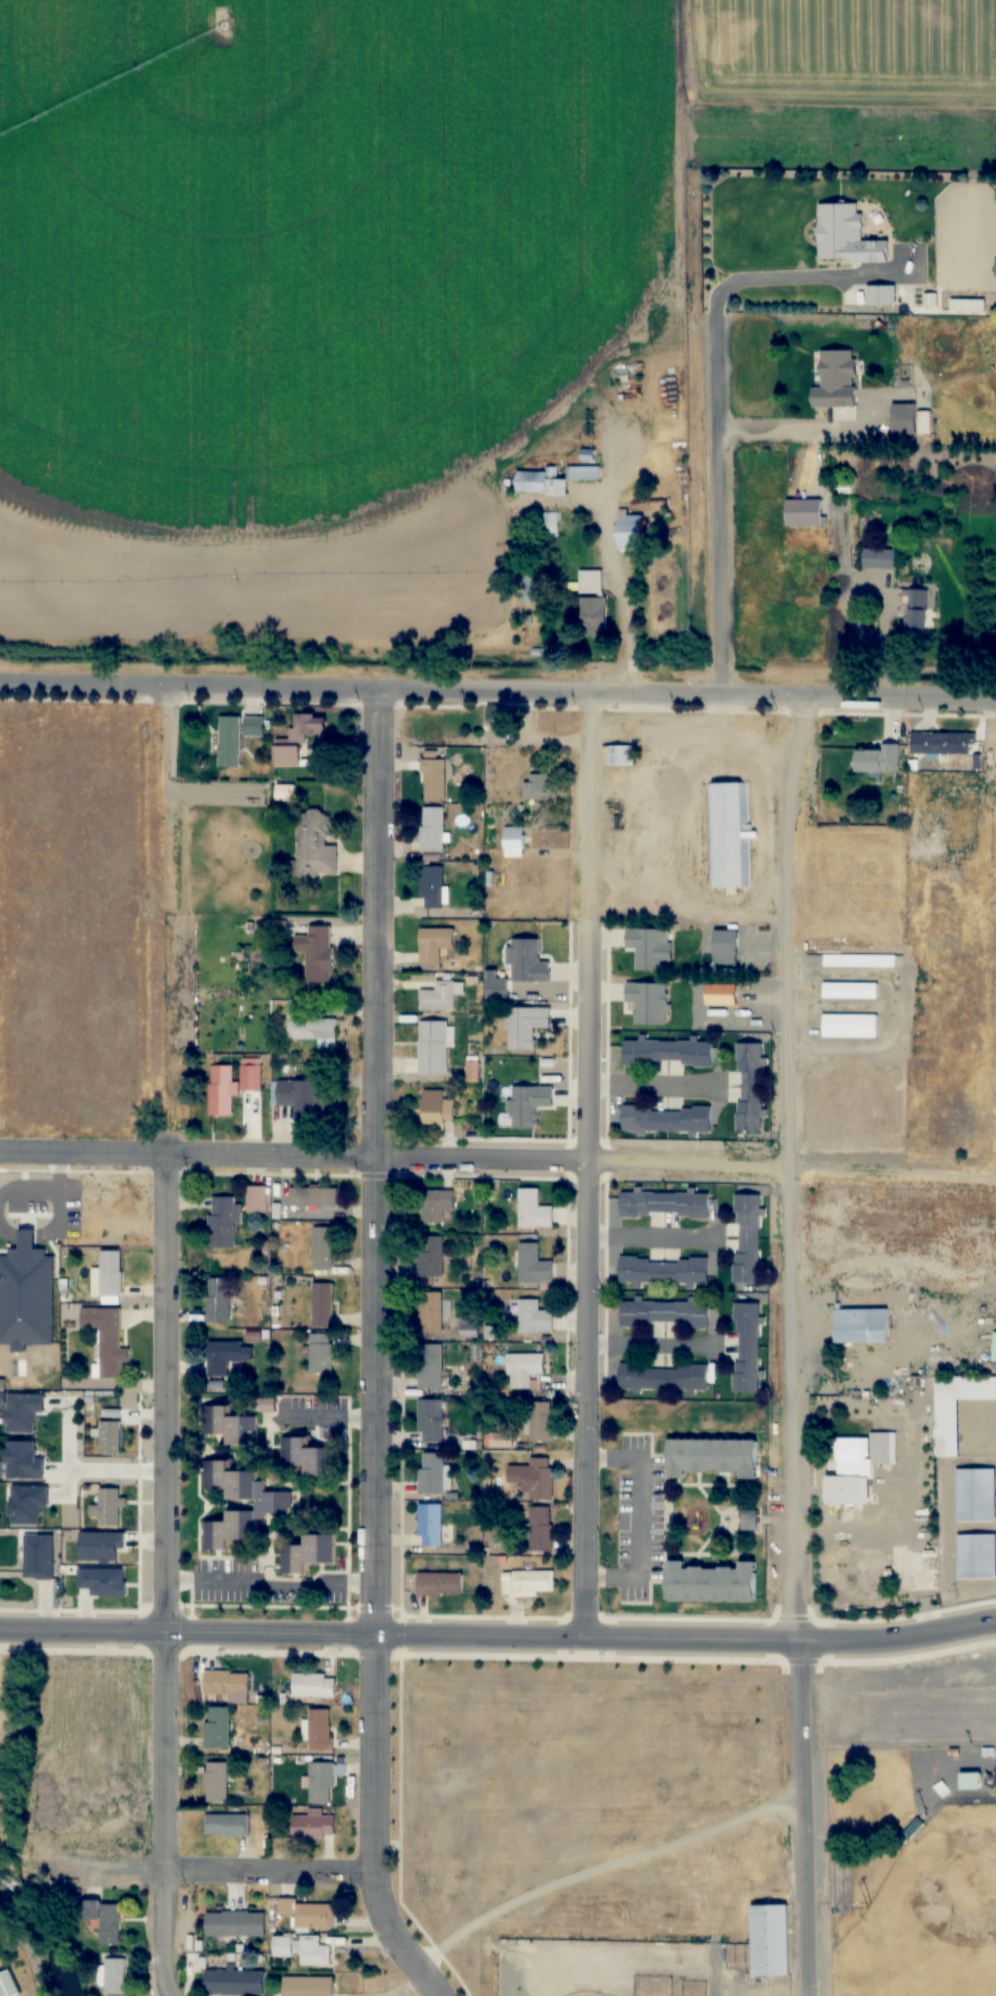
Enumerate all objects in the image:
building: (846, 237)
crop: (372, 271)
building: (885, 296)
building: (622, 375)
building: (836, 379)
road: (702, 396)
building: (904, 419)
road: (795, 431)
building: (586, 471)
building: (540, 483)
building: (804, 512)
building: (550, 524)
building: (630, 532)
building: (880, 559)
building: (592, 603)
building: (916, 610)
road: (190, 690)
road: (688, 694)
building: (303, 728)
building: (236, 737)
building: (942, 743)
building: (286, 755)
building: (618, 755)
building: (878, 759)
building: (434, 780)
building: (285, 793)
building: (432, 829)
building: (727, 835)
building: (514, 841)
building: (315, 843)
building: (432, 886)
road: (380, 923)
building: (434, 943)
building: (650, 946)
building: (315, 952)
building: (859, 960)
building: (528, 961)
building: (850, 990)
building: (438, 997)
building: (648, 1001)
building: (525, 1025)
building: (310, 1026)
building: (849, 1026)
building: (433, 1047)
building: (667, 1051)
building: (250, 1077)
building: (750, 1087)
building: (222, 1090)
building: (303, 1099)
building: (528, 1104)
building: (436, 1108)
building: (666, 1119)
road: (294, 1156)
road: (690, 1162)
road: (588, 1166)
road: (792, 1166)
building: (313, 1197)
building: (256, 1200)
building: (435, 1204)
building: (664, 1204)
building: (533, 1210)
building: (223, 1221)
building: (745, 1238)
building: (323, 1248)
building: (432, 1258)
building: (533, 1264)
building: (663, 1271)
road: (377, 1276)
building: (108, 1277)
building: (218, 1300)
building: (322, 1304)
building: (431, 1311)
building: (664, 1313)
building: (533, 1317)
building: (469, 1325)
building: (861, 1326)
building: (106, 1339)
building: (745, 1347)
building: (321, 1353)
building: (222, 1357)
building: (430, 1365)
building: (523, 1368)
building: (663, 1377)
building: (956, 1406)
building: (430, 1420)
building: (541, 1421)
building: (230, 1426)
building: (110, 1437)
building: (880, 1448)
building: (848, 1450)
building: (711, 1457)
building: (306, 1458)
building: (430, 1473)
building: (533, 1477)
building: (843, 1490)
building: (976, 1495)
building: (273, 1504)
building: (108, 1507)
road: (375, 1515)
road: (639, 1519)
building: (749, 1520)
building: (429, 1524)
building: (540, 1529)
building: (308, 1553)
building: (976, 1556)
road: (163, 1576)
building: (532, 1581)
building: (439, 1583)
building: (710, 1583)
road: (499, 1636)
building: (227, 1686)
building: (313, 1686)
parking lot: (913, 1710)
building: (217, 1728)
building: (320, 1730)
building: (970, 1781)
building: (215, 1782)
building: (320, 1783)
building: (994, 1788)
road: (807, 1817)
road: (373, 1824)
building: (227, 1825)
building: (312, 1826)
building: (912, 1829)
road: (604, 1869)
road: (261, 1873)
crop: (635, 1900)
building: (308, 1913)
park: (932, 1913)
building: (103, 1920)
building: (234, 1924)
river: (44, 1929)
building: (770, 1939)
building: (302, 1949)
road: (27, 1953)
building: (114, 1977)
building: (233, 1981)
building: (7, 1984)
building: (290, 1988)

